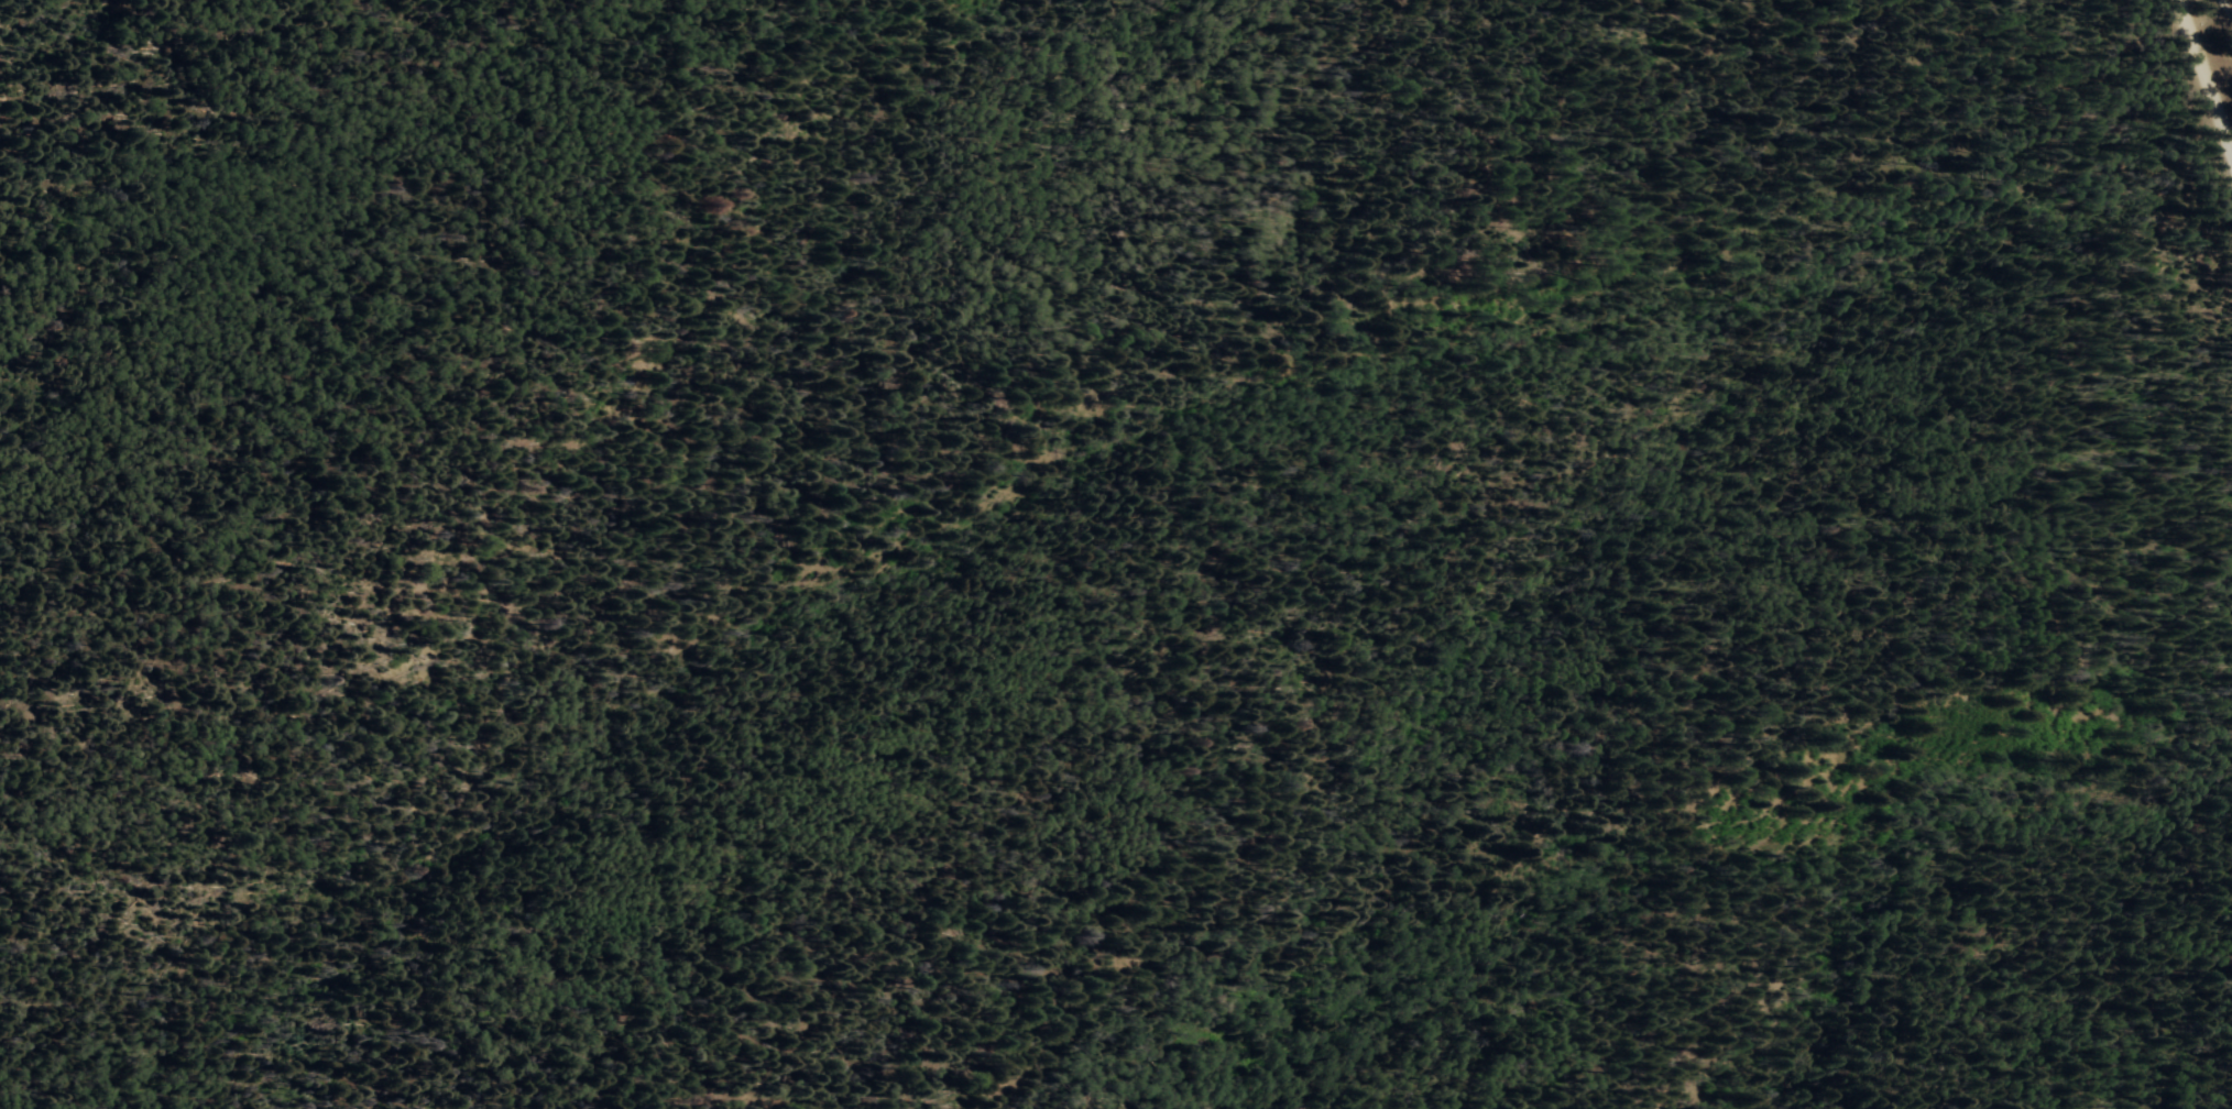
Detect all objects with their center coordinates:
road: (2226, 8)
road: (2206, 73)

